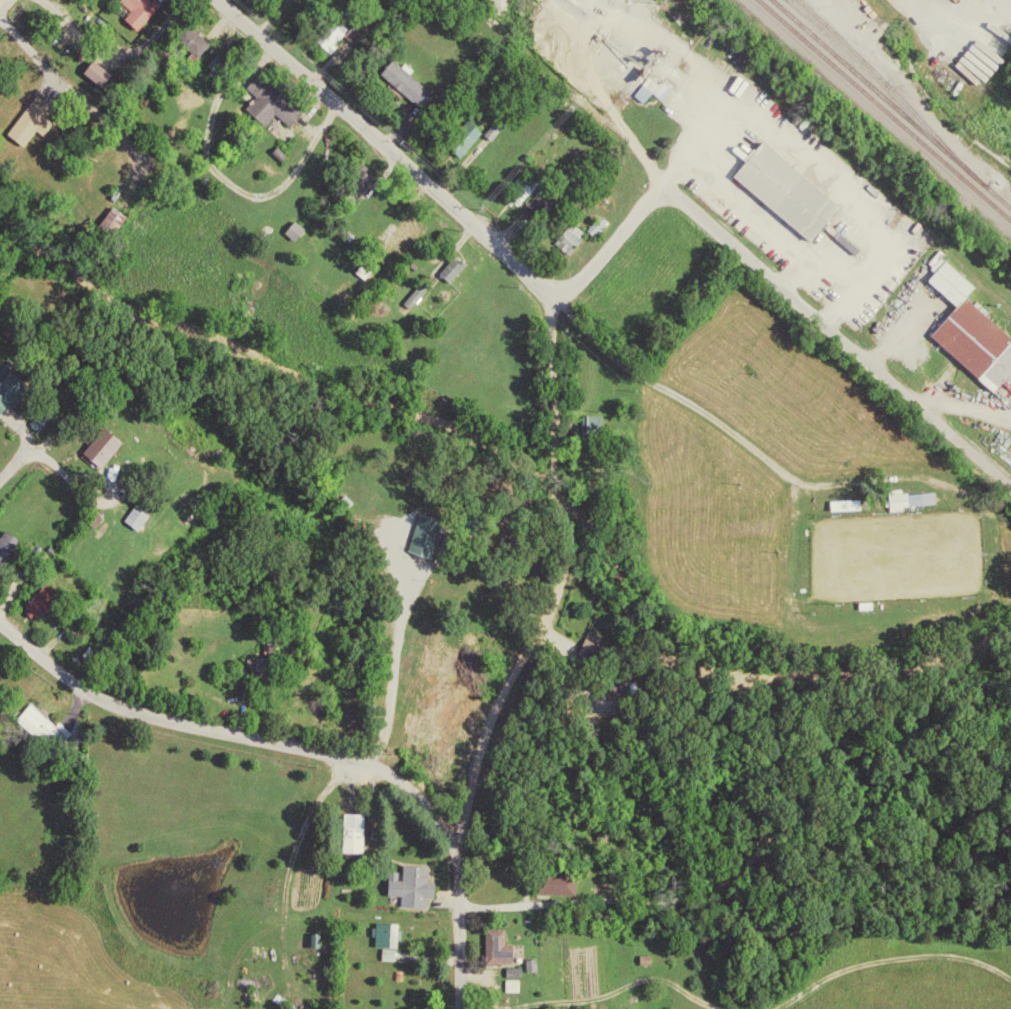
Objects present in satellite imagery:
building: (140, 12)
building: (96, 75)
railway: (881, 82)
building: (405, 87)
building: (652, 92)
building: (272, 104)
railway: (890, 105)
railway: (882, 112)
building: (30, 123)
road: (389, 149)
building: (783, 188)
building: (295, 233)
building: (401, 237)
road: (618, 240)
building: (571, 241)
building: (451, 271)
road: (561, 297)
building: (968, 327)
road: (838, 335)
building: (10, 383)
road: (553, 390)
building: (39, 412)
road: (743, 440)
building: (98, 444)
road: (10, 467)
road: (556, 490)
building: (905, 497)
building: (841, 502)
building: (136, 510)
building: (462, 517)
building: (422, 531)
building: (6, 540)
park: (893, 553)
building: (40, 596)
building: (862, 602)
building: (264, 668)
road: (513, 674)
building: (42, 725)
road: (312, 749)
building: (350, 828)
building: (408, 882)
building: (552, 882)
building: (383, 931)
building: (493, 944)
building: (513, 987)
building: (297, 1008)

